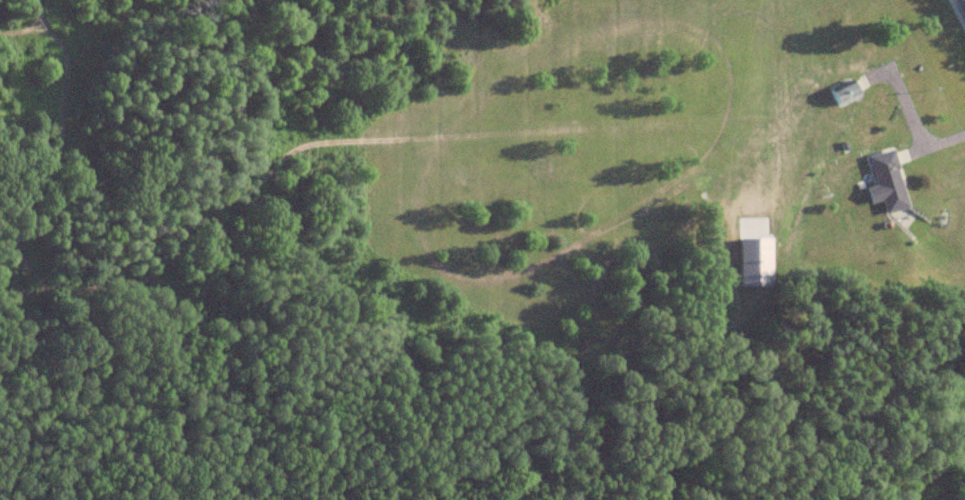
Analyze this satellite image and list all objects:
road: (964, 0)
building: (886, 182)

